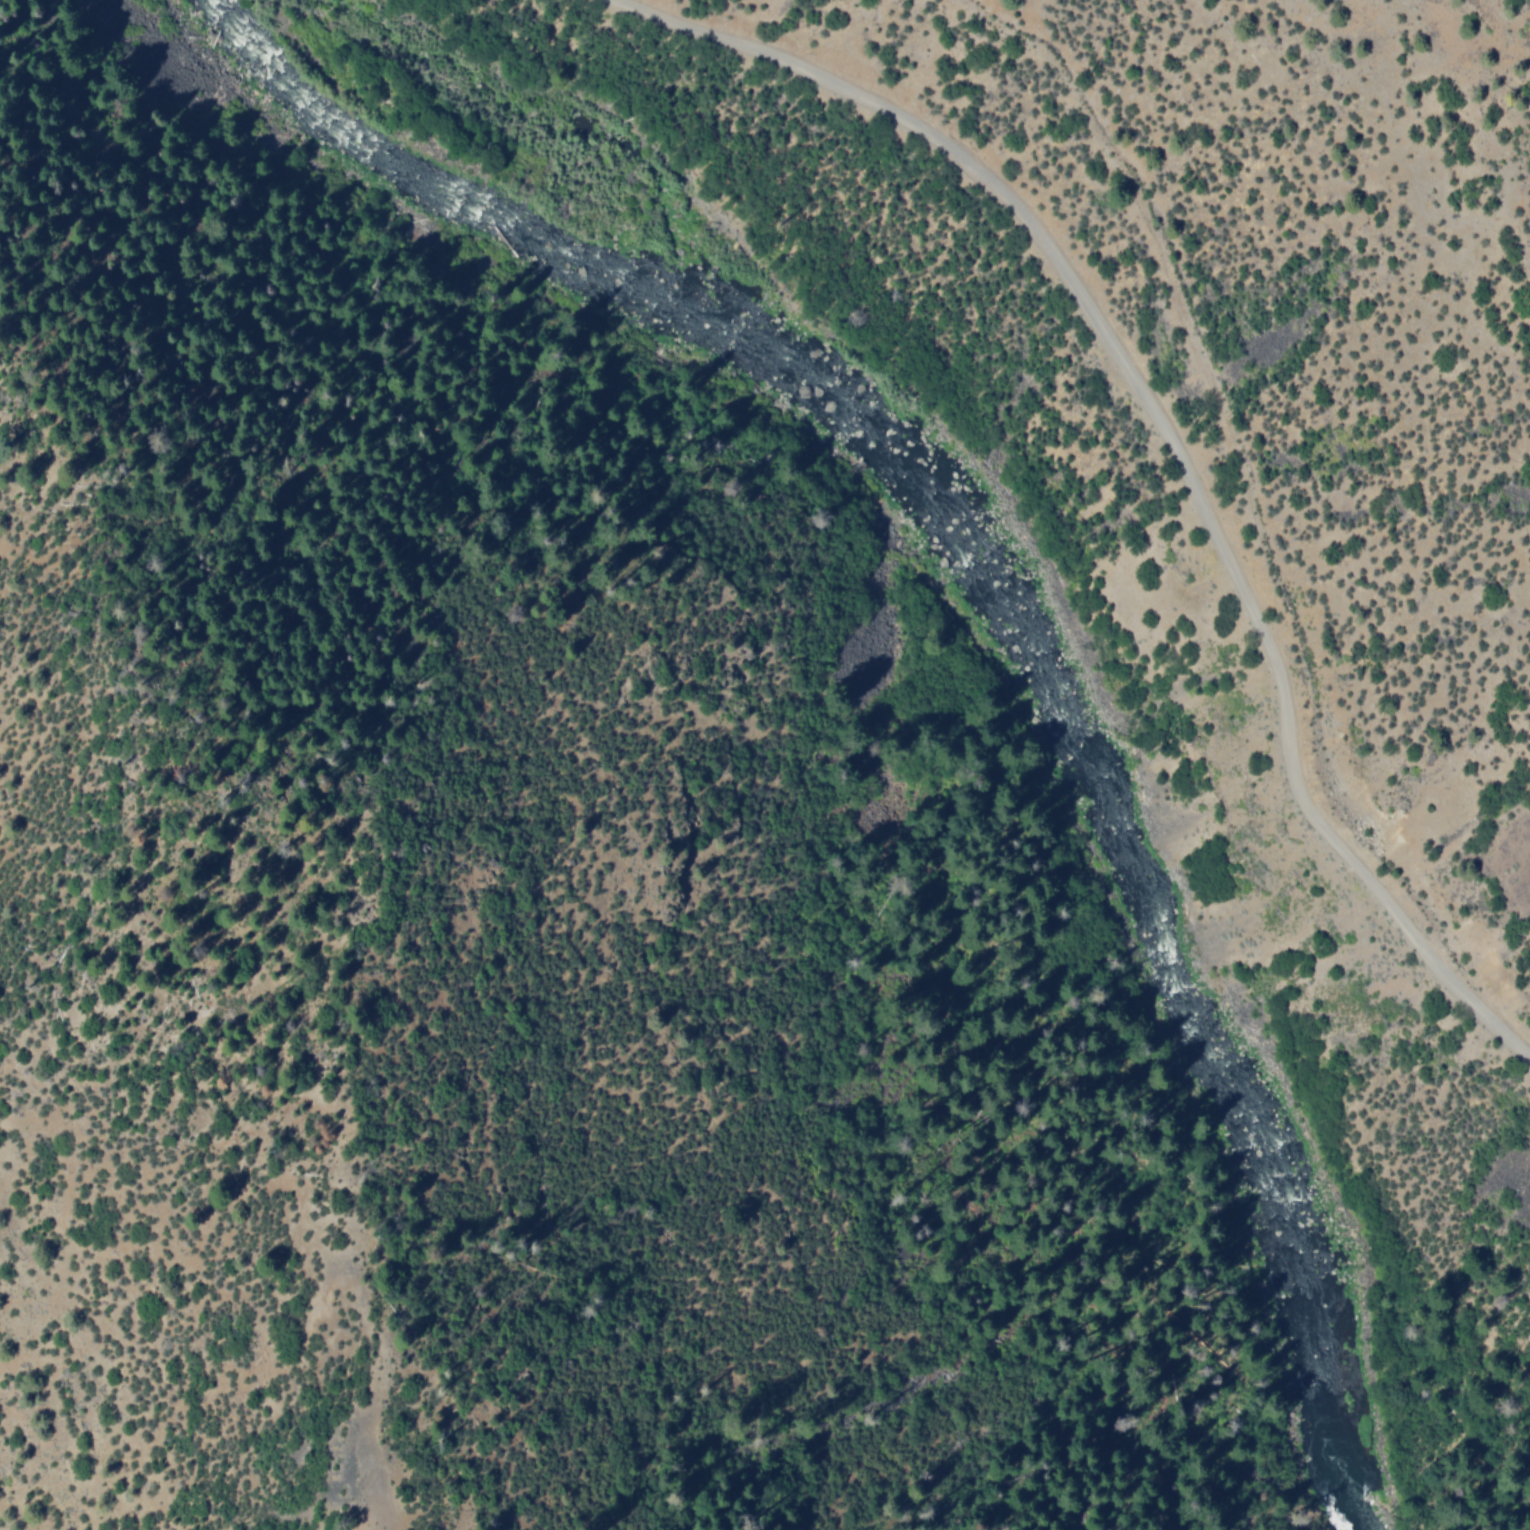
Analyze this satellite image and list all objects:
road: (1171, 441)
river: (1013, 604)

